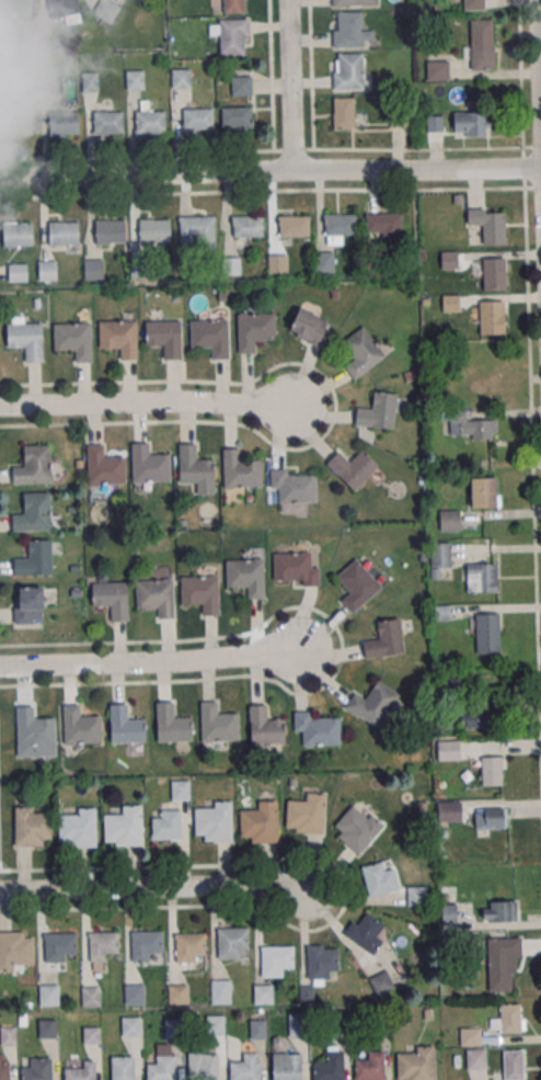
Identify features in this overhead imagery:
building: (120, 0)
building: (354, 2)
building: (473, 4)
building: (233, 5)
building: (15, 7)
building: (65, 10)
building: (105, 10)
building: (350, 30)
building: (231, 35)
building: (8, 41)
building: (482, 44)
building: (9, 69)
building: (437, 70)
building: (349, 72)
building: (181, 78)
building: (135, 79)
building: (47, 81)
building: (90, 81)
building: (241, 86)
road: (538, 86)
road: (288, 88)
building: (344, 113)
building: (235, 117)
building: (197, 118)
building: (15, 120)
building: (149, 120)
building: (107, 122)
building: (64, 123)
building: (471, 124)
road: (269, 177)
building: (293, 225)
building: (490, 225)
building: (248, 226)
building: (385, 226)
building: (338, 227)
building: (198, 229)
building: (151, 230)
building: (110, 231)
building: (62, 232)
building: (18, 234)
building: (324, 261)
building: (277, 264)
building: (232, 265)
building: (93, 269)
building: (47, 270)
building: (18, 273)
building: (494, 273)
building: (492, 317)
building: (309, 328)
building: (254, 330)
building: (164, 337)
building: (210, 337)
building: (25, 338)
building: (119, 338)
building: (74, 339)
building: (361, 352)
building: (476, 367)
road: (158, 401)
building: (377, 411)
building: (473, 425)
building: (149, 464)
building: (33, 465)
building: (104, 467)
building: (352, 467)
building: (195, 469)
building: (240, 470)
building: (295, 486)
building: (483, 492)
building: (34, 513)
building: (449, 520)
building: (439, 556)
building: (34, 559)
building: (295, 568)
building: (246, 576)
building: (479, 577)
building: (356, 584)
building: (200, 593)
building: (156, 598)
building: (111, 599)
building: (27, 604)
building: (487, 633)
building: (384, 639)
road: (160, 661)
building: (373, 704)
building: (479, 718)
building: (171, 724)
building: (217, 724)
building: (125, 725)
building: (80, 726)
building: (264, 726)
building: (318, 728)
building: (34, 732)
building: (448, 750)
building: (491, 770)
building: (449, 810)
building: (307, 814)
building: (491, 820)
building: (212, 821)
building: (260, 822)
building: (165, 825)
building: (124, 826)
building: (33, 827)
building: (78, 828)
building: (356, 828)
building: (379, 878)
road: (164, 885)
building: (417, 896)
building: (499, 911)
building: (367, 932)
building: (232, 943)
building: (102, 945)
building: (147, 946)
building: (189, 946)
building: (59, 947)
building: (16, 951)
building: (276, 959)
building: (322, 962)
building: (502, 962)
building: (381, 982)
building: (220, 991)
building: (134, 993)
building: (177, 993)
building: (263, 993)
building: (306, 993)
building: (48, 994)
building: (90, 996)
building: (507, 1019)
building: (215, 1024)
building: (296, 1024)
building: (131, 1025)
building: (173, 1027)
building: (47, 1028)
building: (257, 1028)
building: (8, 1035)
building: (470, 1036)
building: (475, 1058)
building: (163, 1064)
building: (415, 1064)
building: (204, 1066)
building: (286, 1066)
building: (330, 1066)
building: (369, 1066)
building: (4, 1067)
building: (122, 1067)
building: (246, 1067)
building: (36, 1068)
building: (80, 1070)

